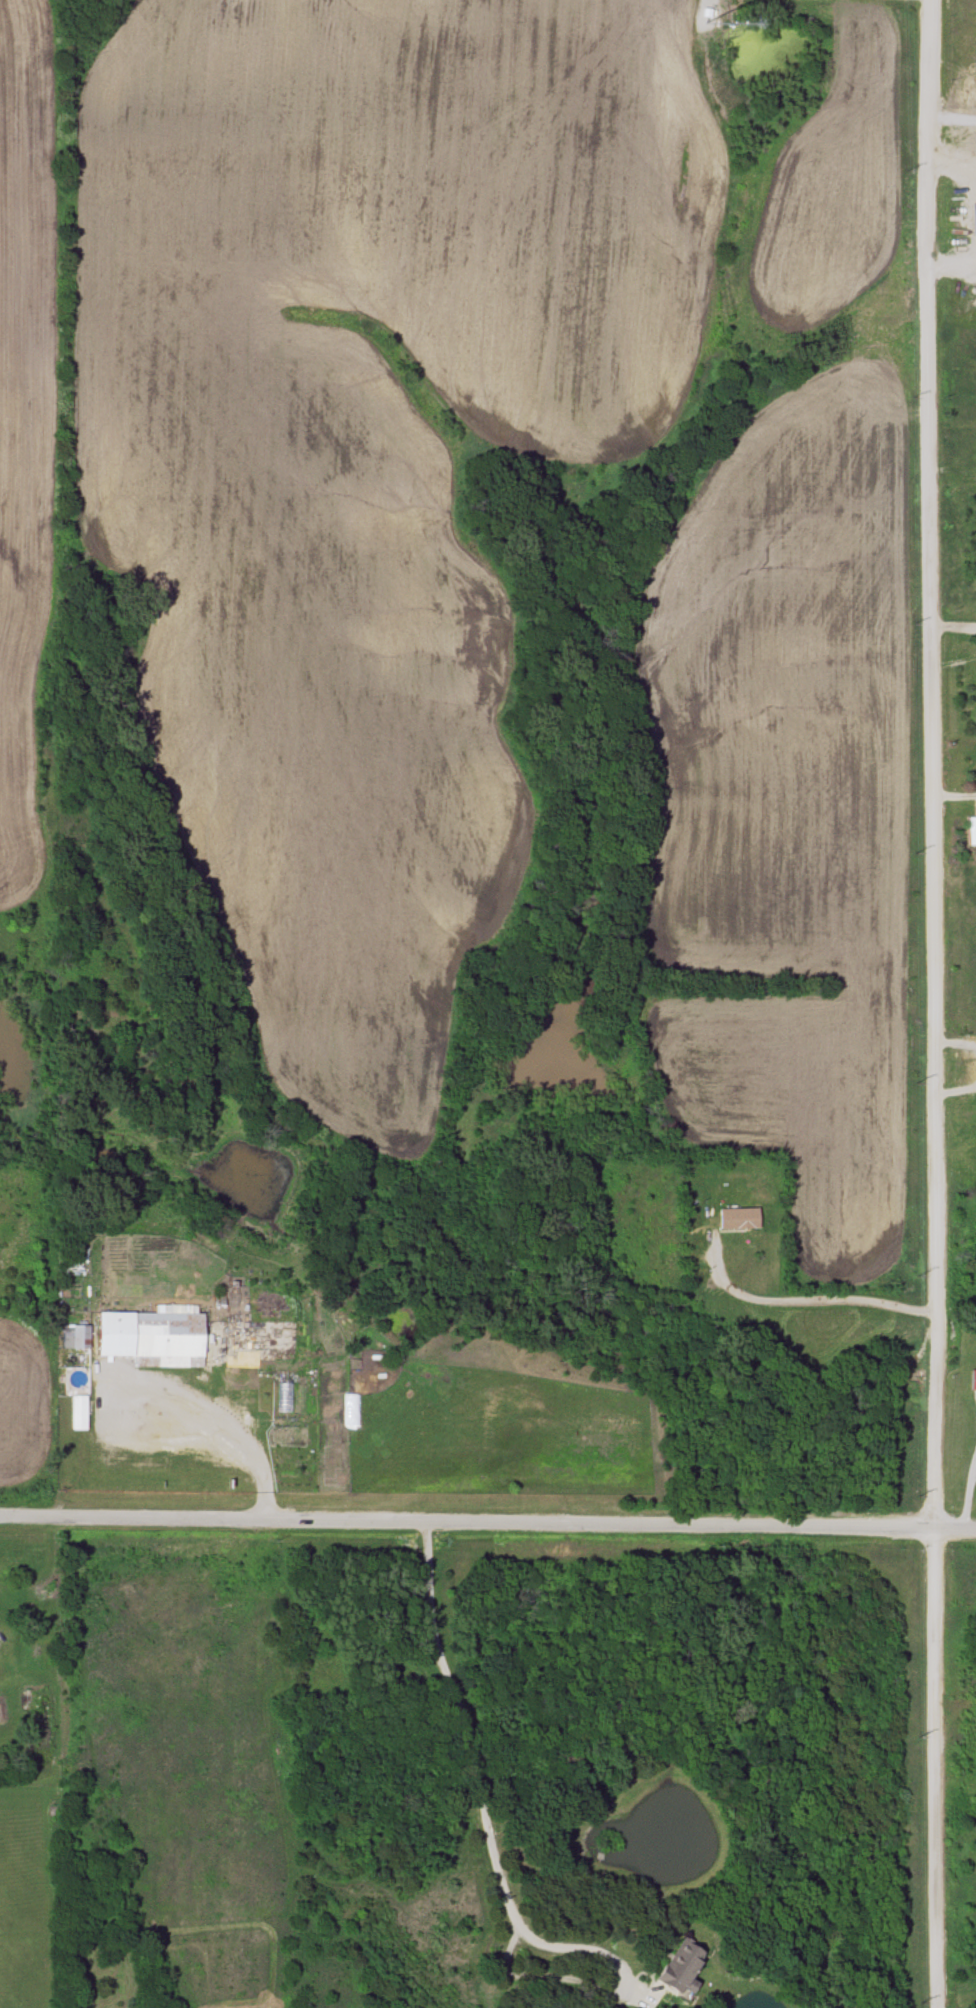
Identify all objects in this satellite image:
road: (706, 1)
road: (965, 152)
road: (941, 156)
road: (965, 162)
crop: (24, 423)
road: (953, 471)
road: (955, 624)
road: (938, 1003)
building: (736, 1219)
road: (836, 1295)
building: (148, 1338)
crop: (23, 1402)
building: (77, 1415)
road: (197, 1441)
road: (964, 1498)
road: (488, 1518)
road: (955, 1701)
road: (474, 1722)
building: (675, 1971)
road: (621, 1983)

